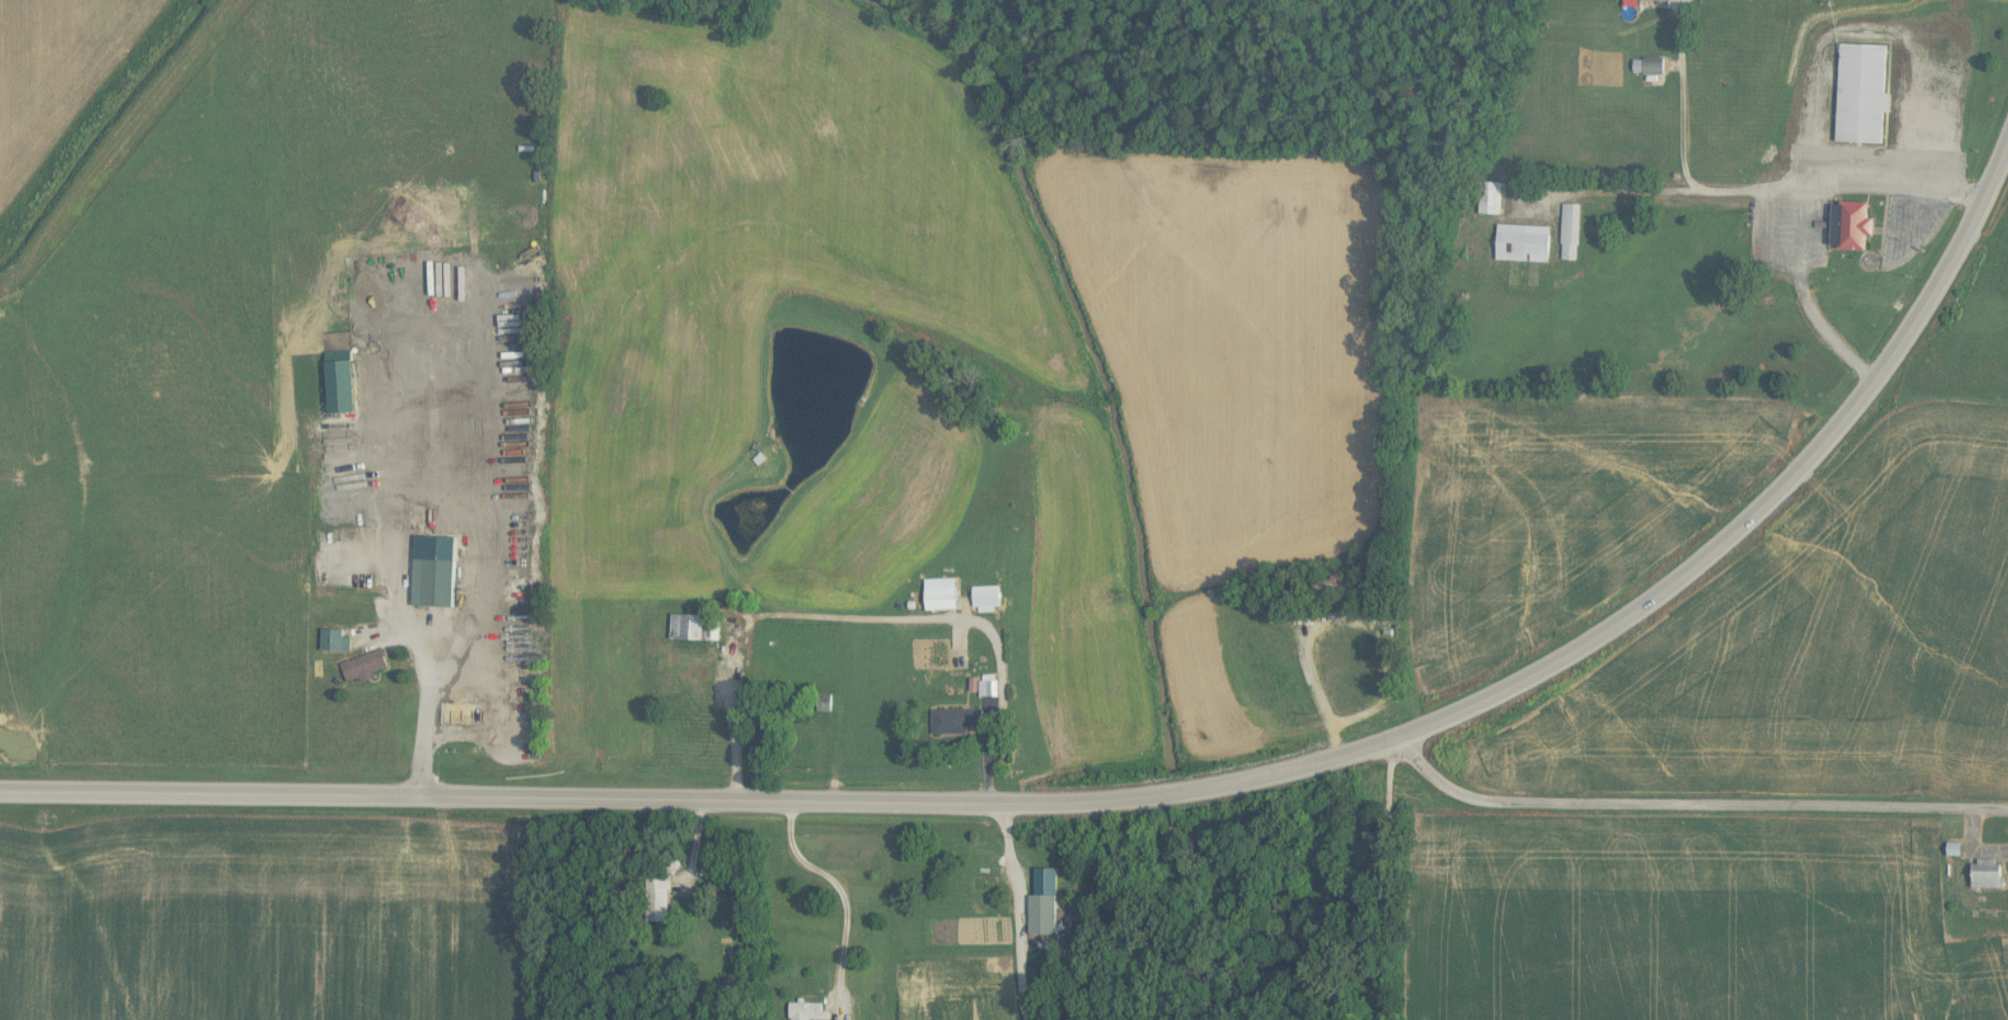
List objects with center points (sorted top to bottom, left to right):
building: (1654, 0)
building: (1649, 66)
building: (1863, 93)
road: (1674, 98)
road: (1738, 194)
building: (1491, 198)
building: (1852, 226)
building: (1571, 232)
building: (1524, 243)
road: (1792, 301)
building: (341, 382)
road: (1688, 568)
building: (434, 582)
building: (941, 594)
building: (986, 598)
road: (870, 619)
building: (695, 627)
building: (335, 640)
building: (365, 667)
building: (988, 688)
road: (425, 705)
building: (957, 721)
building: (761, 745)
road: (589, 794)
road: (1693, 799)
road: (696, 844)
building: (983, 866)
building: (1989, 873)
road: (842, 892)
building: (657, 894)
building: (1044, 903)
road: (1020, 912)
building: (808, 1011)

